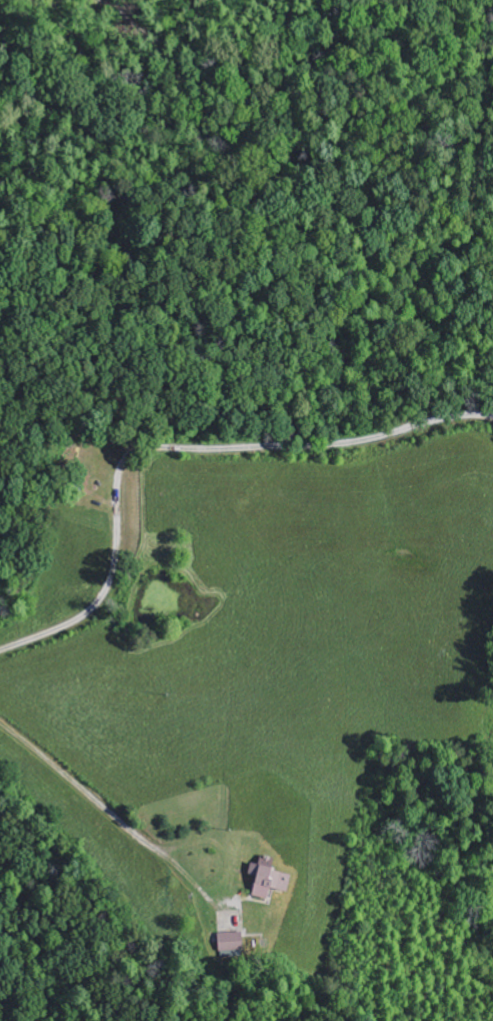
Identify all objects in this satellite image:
road: (191, 447)
road: (101, 793)
building: (271, 881)
building: (232, 943)

